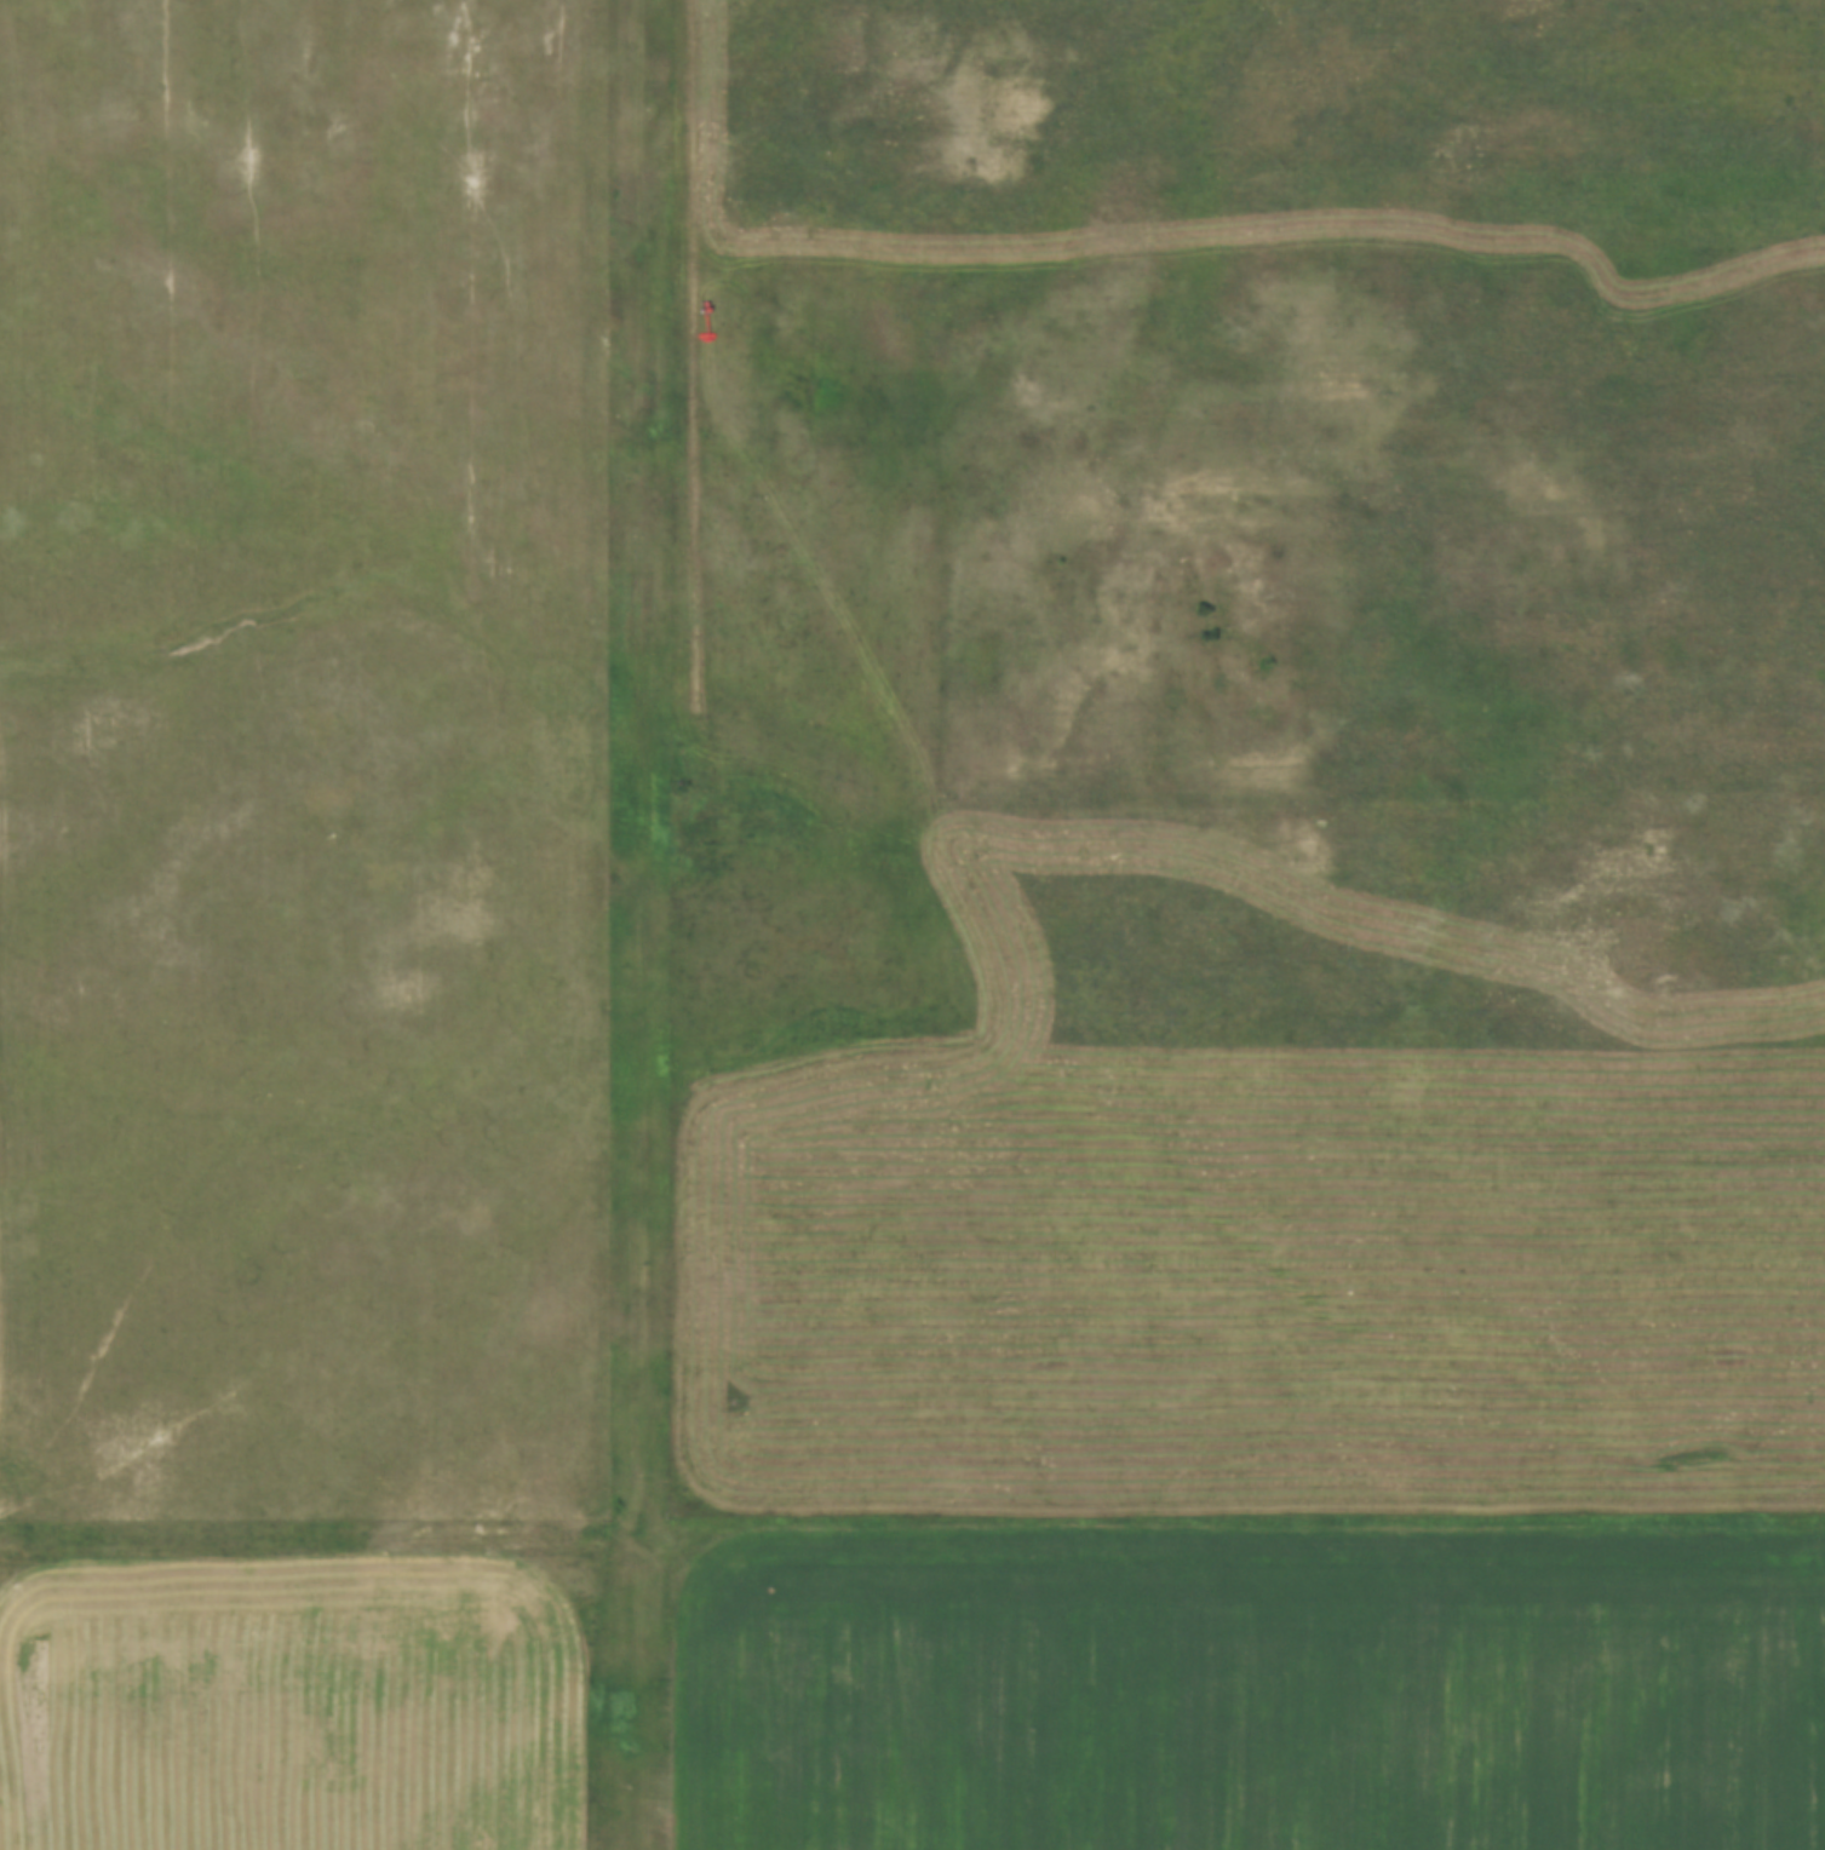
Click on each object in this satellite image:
road: (636, 924)
road: (4, 1194)

